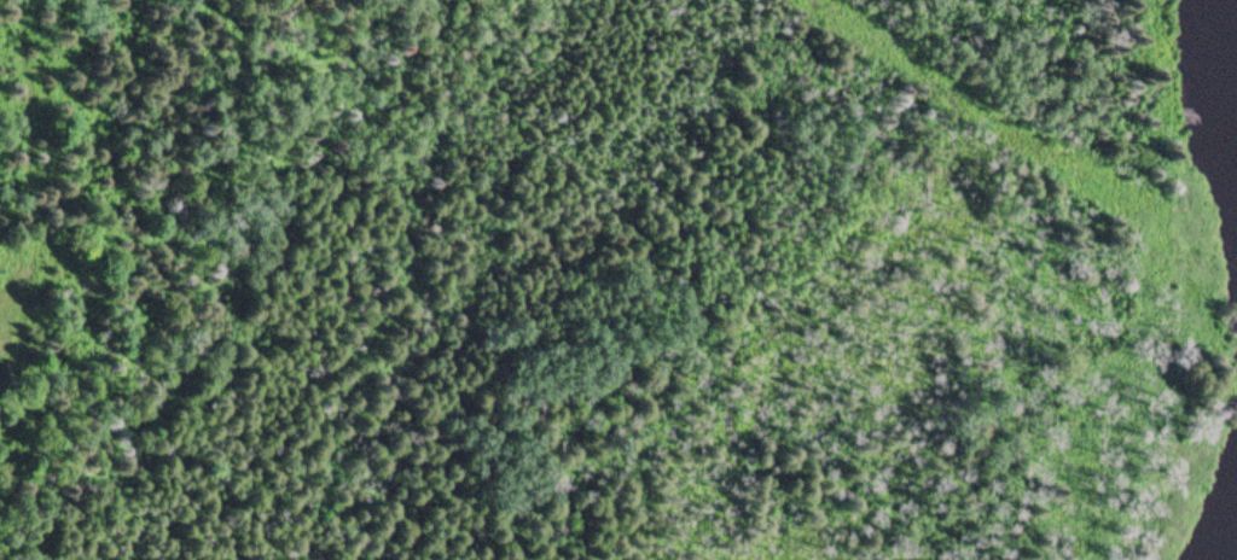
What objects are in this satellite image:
road: (838, 19)
river: (1233, 555)

